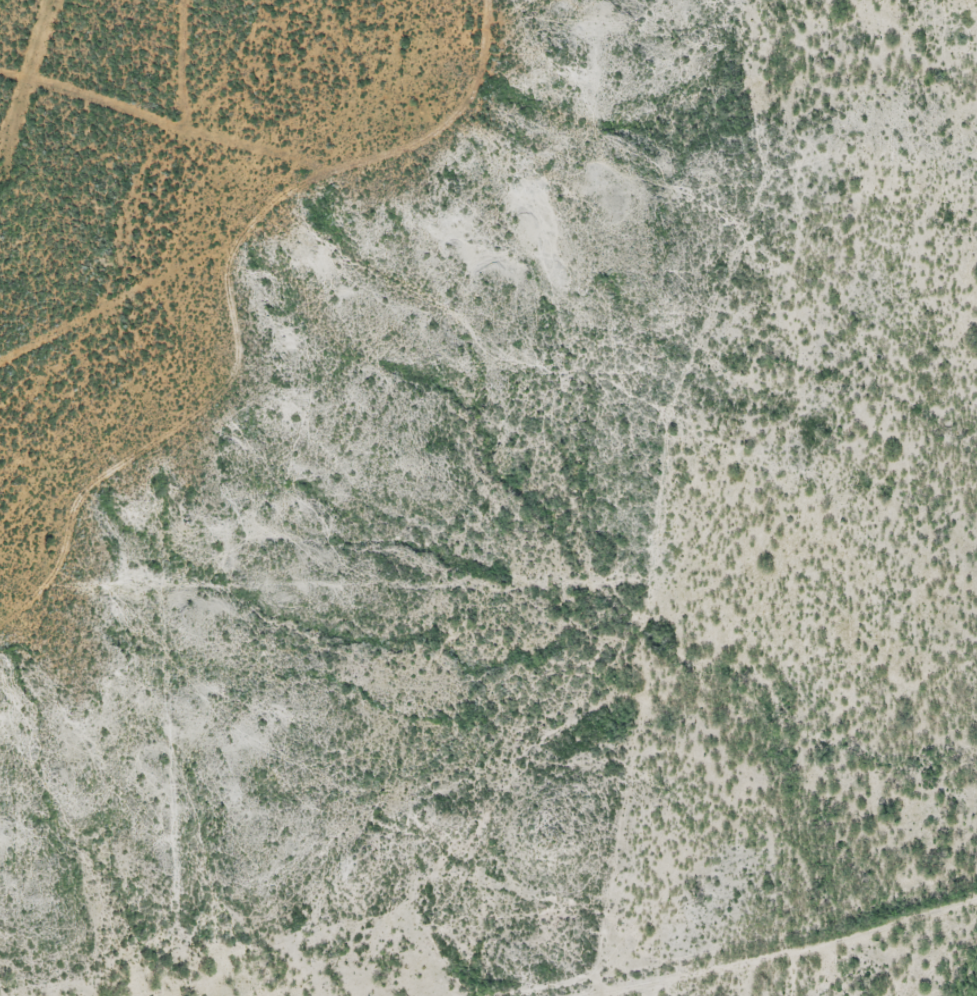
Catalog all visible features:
road: (212, 256)

